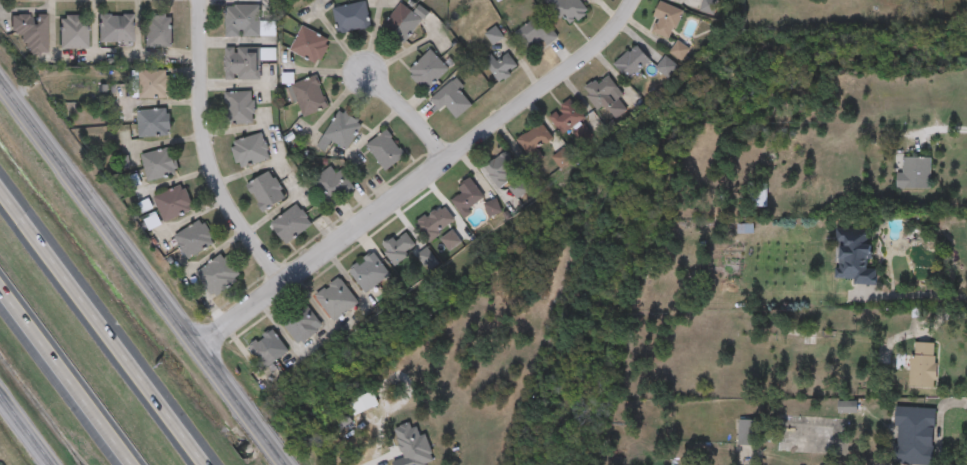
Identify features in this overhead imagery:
building: (687, 0)
building: (568, 9)
building: (351, 17)
building: (665, 20)
building: (404, 21)
building: (241, 22)
building: (115, 28)
building: (30, 31)
building: (73, 31)
building: (158, 31)
building: (536, 31)
building: (310, 45)
building: (679, 51)
building: (632, 61)
building: (241, 64)
building: (499, 66)
building: (666, 66)
building: (428, 70)
building: (152, 84)
building: (605, 95)
building: (308, 96)
building: (452, 99)
building: (239, 108)
road: (408, 114)
building: (567, 117)
building: (154, 122)
road: (938, 129)
building: (340, 132)
building: (538, 136)
building: (250, 150)
building: (386, 150)
road: (205, 153)
building: (159, 164)
building: (501, 170)
building: (914, 173)
road: (421, 178)
building: (333, 185)
building: (517, 188)
building: (266, 192)
building: (755, 194)
building: (467, 196)
building: (173, 202)
building: (492, 208)
building: (435, 223)
building: (291, 224)
building: (195, 238)
building: (399, 247)
building: (426, 257)
building: (856, 257)
road: (144, 271)
building: (369, 273)
building: (218, 275)
road: (917, 292)
building: (335, 299)
road: (946, 315)
building: (302, 324)
road: (103, 327)
building: (797, 337)
building: (268, 349)
building: (923, 365)
road: (69, 372)
building: (807, 391)
road: (939, 422)
building: (745, 432)
road: (23, 434)
building: (913, 436)
road: (382, 459)

